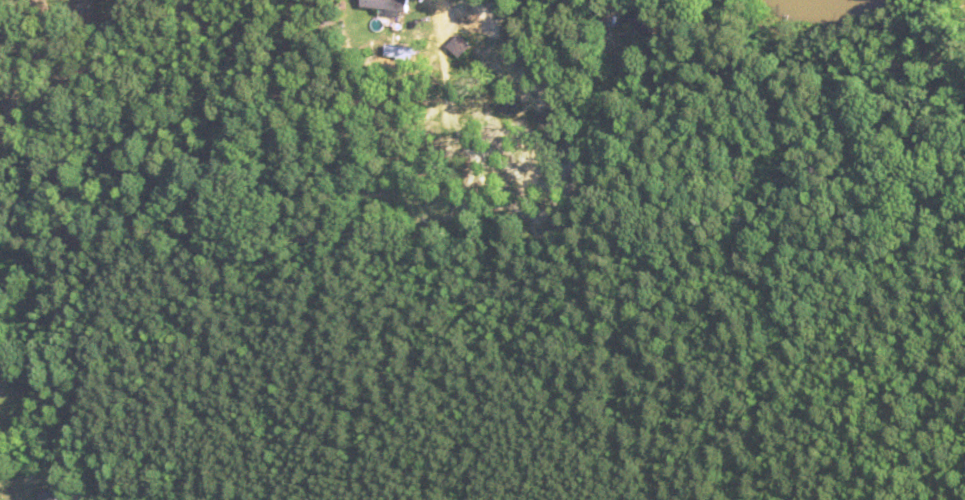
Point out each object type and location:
building: (385, 4)

